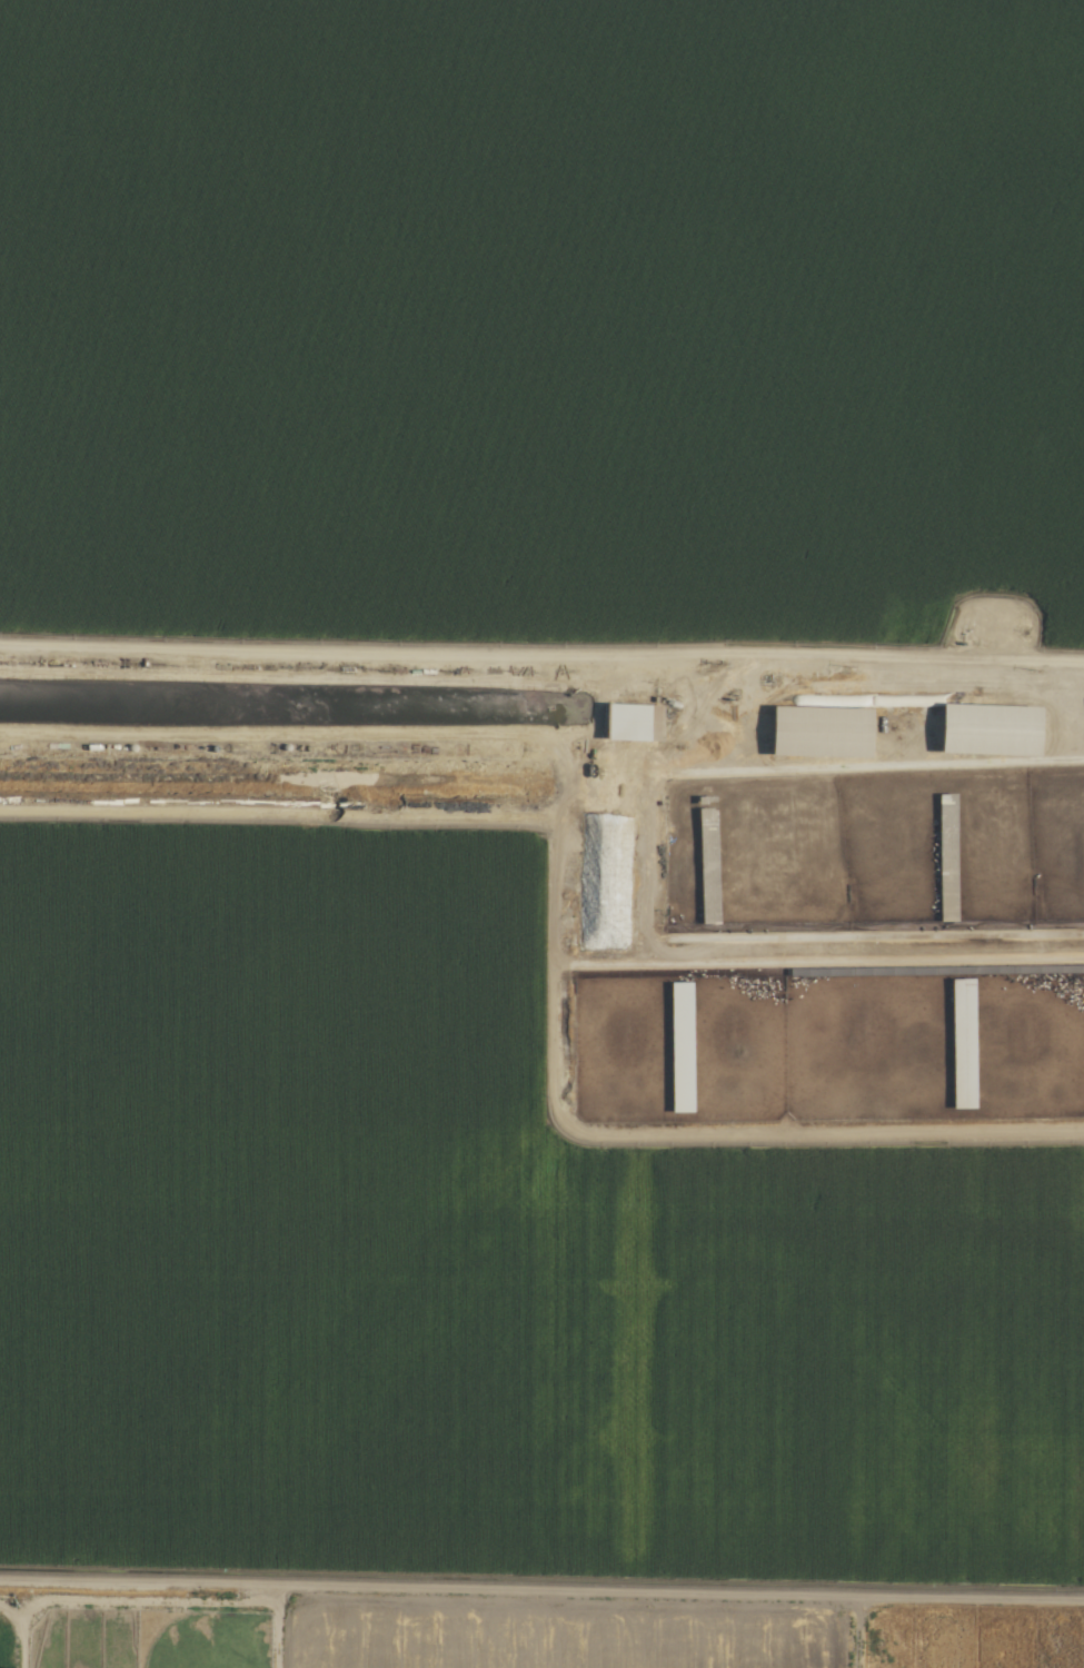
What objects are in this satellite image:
road: (570, 667)
building: (979, 729)
building: (810, 732)

